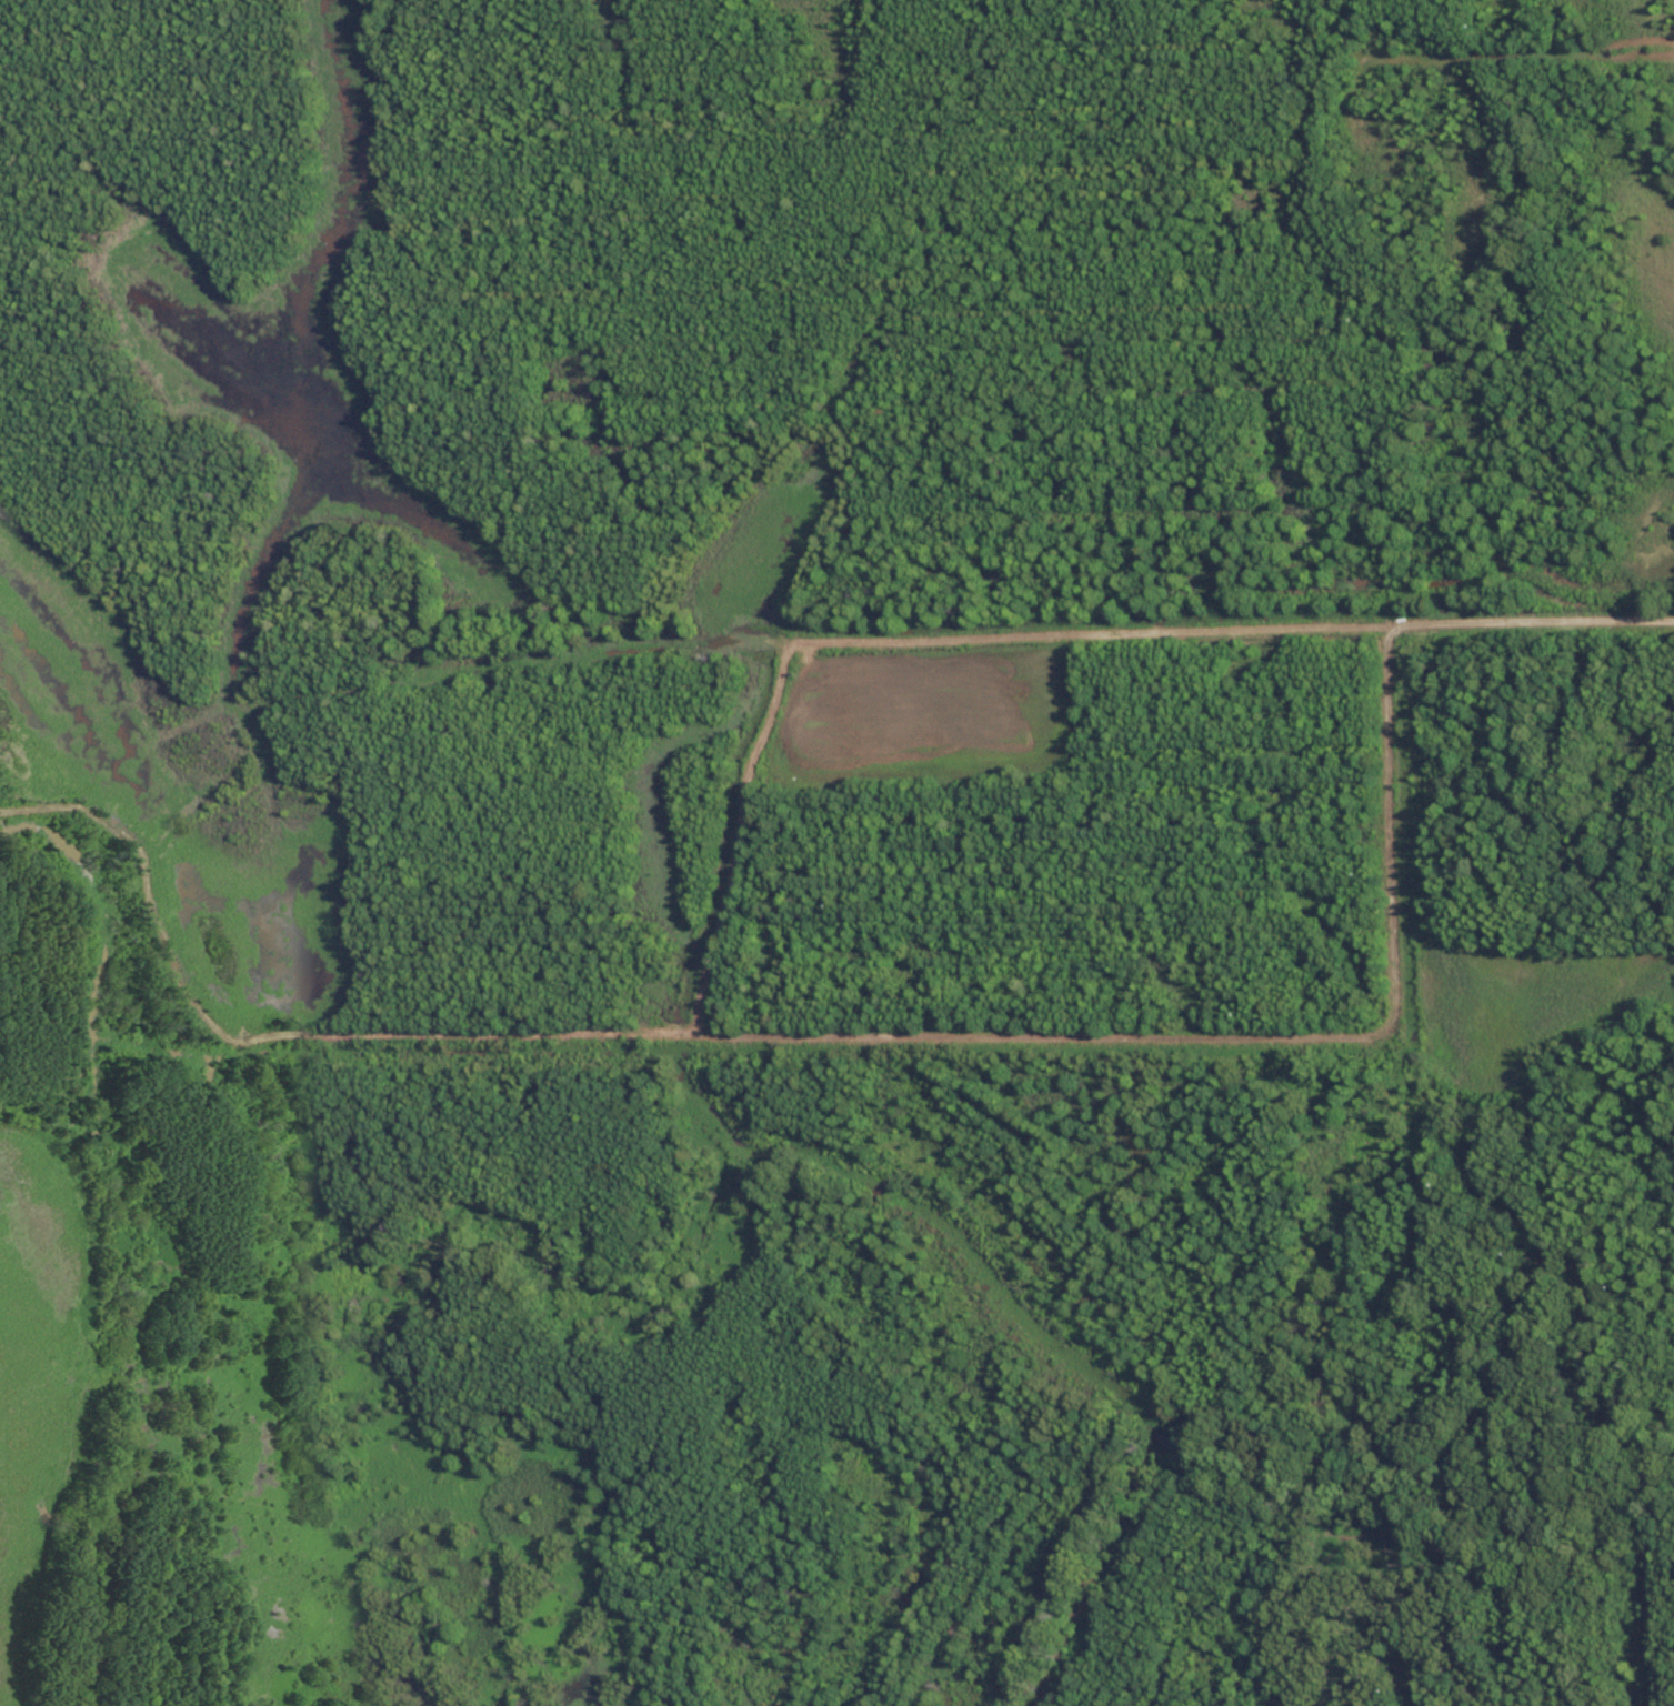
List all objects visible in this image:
road: (602, 625)
road: (38, 630)

